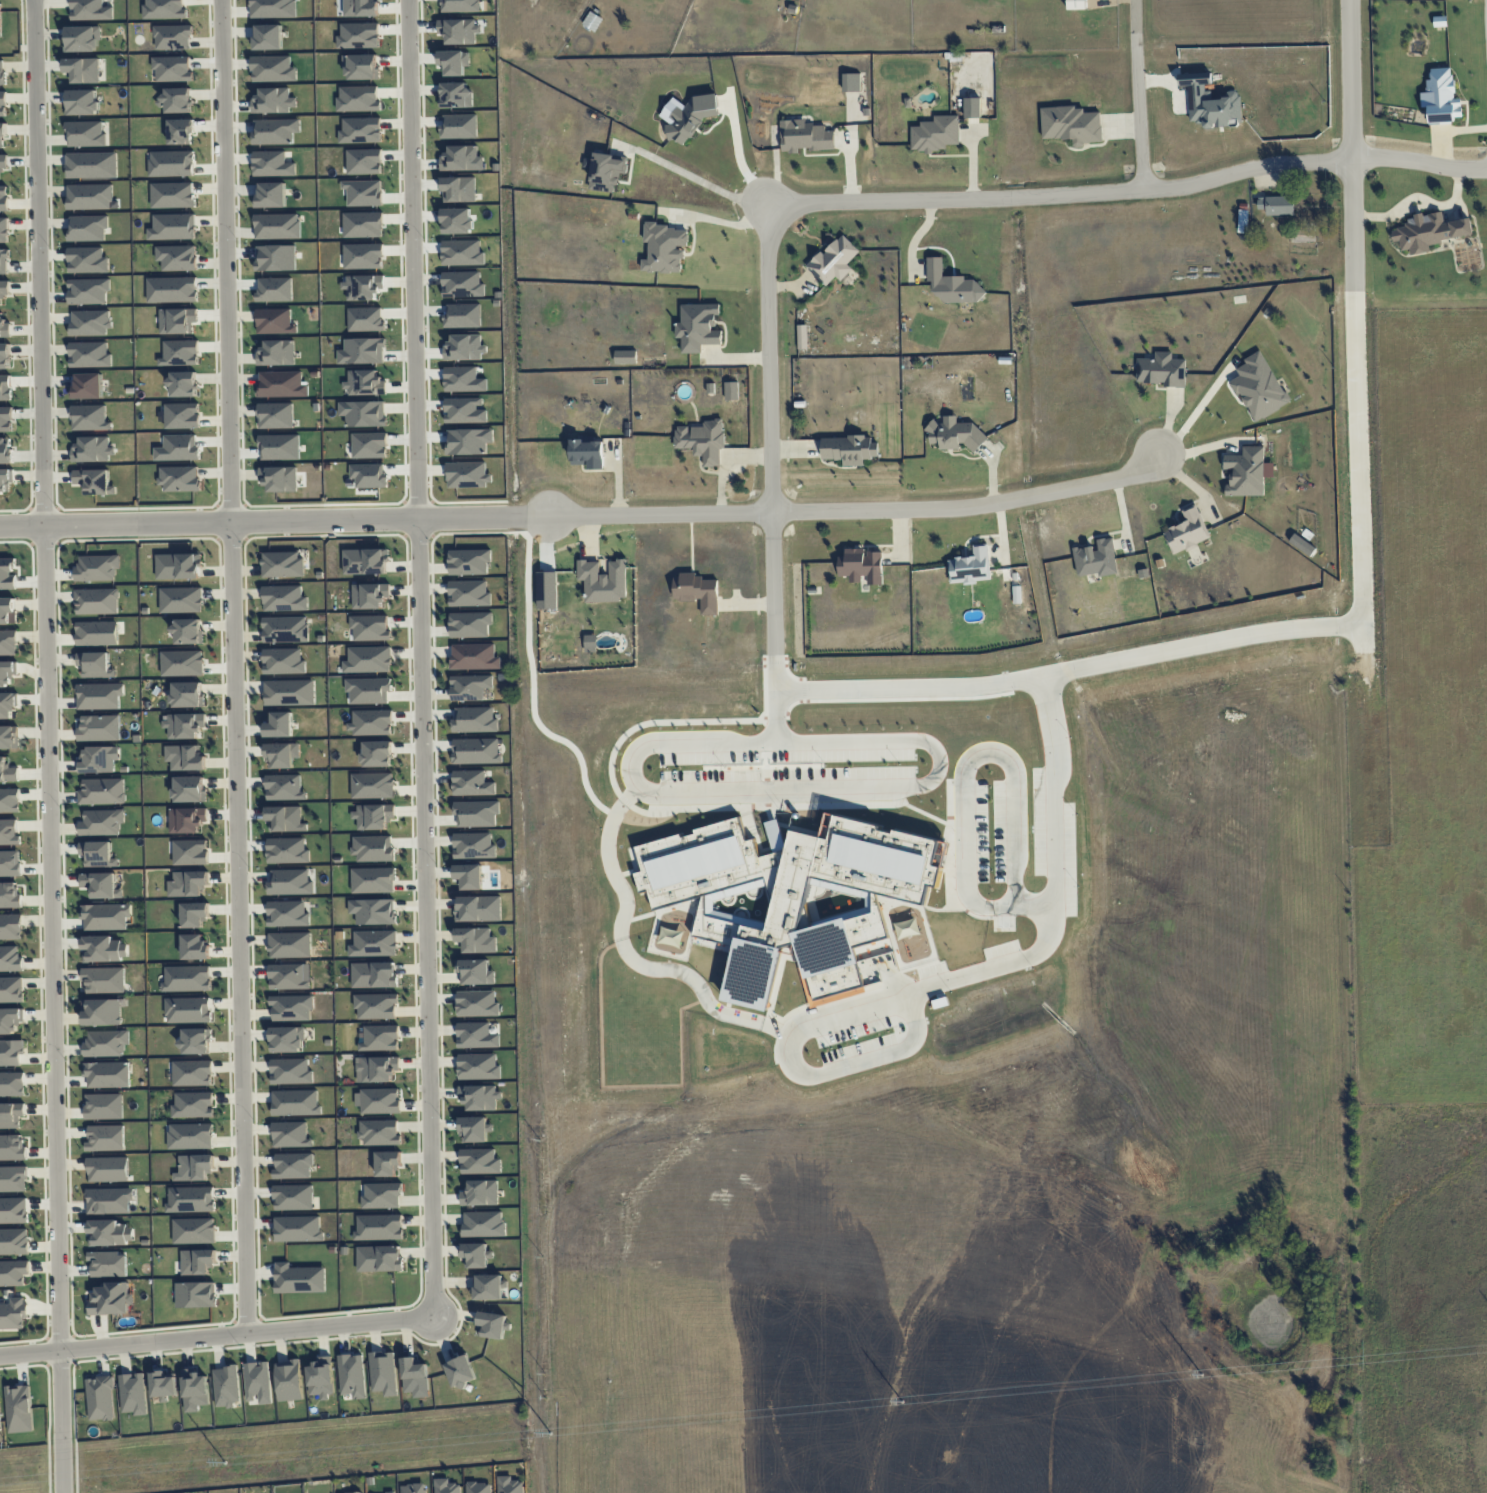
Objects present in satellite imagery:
building: (90, 10)
building: (1439, 21)
building: (0, 22)
building: (82, 38)
building: (82, 69)
building: (2, 72)
road: (1139, 94)
building: (1441, 96)
building: (82, 102)
building: (1210, 102)
building: (3, 103)
building: (687, 115)
building: (1071, 124)
building: (935, 133)
building: (85, 134)
building: (2, 135)
building: (804, 136)
road: (1352, 144)
road: (737, 157)
road: (1420, 160)
building: (3, 162)
building: (91, 165)
building: (607, 171)
road: (692, 177)
building: (172, 194)
road: (1062, 194)
building: (89, 196)
building: (4, 198)
road: (1419, 199)
building: (1277, 205)
building: (1242, 218)
road: (720, 221)
building: (173, 227)
building: (87, 228)
building: (4, 230)
building: (1429, 231)
building: (665, 248)
building: (177, 257)
building: (834, 260)
building: (3, 261)
building: (950, 284)
building: (4, 289)
building: (88, 291)
building: (698, 327)
building: (4, 328)
building: (802, 336)
building: (276, 353)
building: (89, 354)
building: (5, 356)
building: (625, 357)
building: (1162, 370)
building: (182, 384)
building: (282, 384)
building: (87, 386)
building: (1259, 387)
building: (731, 390)
building: (275, 415)
road: (1194, 415)
building: (89, 418)
building: (6, 419)
road: (770, 431)
building: (955, 434)
building: (702, 440)
building: (849, 449)
building: (5, 450)
building: (92, 450)
building: (587, 452)
building: (1246, 471)
building: (179, 478)
building: (279, 478)
building: (6, 481)
building: (94, 481)
road: (973, 505)
road: (658, 514)
road: (273, 523)
building: (1187, 531)
building: (1096, 559)
building: (365, 561)
building: (469, 561)
building: (282, 564)
building: (178, 566)
building: (862, 566)
building: (971, 566)
building: (96, 567)
building: (7, 574)
building: (603, 581)
building: (697, 591)
building: (469, 593)
building: (369, 595)
building: (284, 598)
building: (181, 600)
building: (96, 601)
building: (7, 610)
building: (470, 624)
building: (370, 628)
building: (285, 629)
building: (188, 631)
building: (97, 633)
building: (8, 642)
road: (1220, 642)
building: (474, 656)
road: (423, 657)
building: (368, 659)
building: (283, 661)
building: (182, 663)
building: (95, 664)
road: (236, 666)
building: (7, 672)
road: (534, 682)
building: (470, 687)
building: (368, 690)
building: (290, 692)
building: (187, 694)
building: (99, 695)
building: (8, 704)
building: (475, 719)
building: (370, 722)
building: (184, 725)
building: (279, 725)
building: (99, 728)
building: (9, 737)
road: (51, 746)
building: (476, 750)
building: (377, 753)
road: (989, 753)
building: (282, 754)
building: (185, 757)
building: (99, 759)
building: (7, 771)
building: (472, 783)
building: (372, 785)
building: (284, 787)
building: (189, 789)
road: (884, 790)
building: (102, 791)
building: (9, 800)
building: (476, 813)
building: (373, 816)
building: (285, 818)
building: (187, 819)
building: (101, 822)
building: (9, 832)
building: (473, 845)
building: (373, 848)
building: (287, 850)
building: (190, 852)
building: (97, 853)
building: (10, 863)
building: (469, 876)
building: (373, 880)
building: (290, 882)
building: (187, 883)
building: (101, 885)
building: (9, 894)
building: (478, 908)
building: (373, 911)
building: (287, 913)
building: (194, 914)
building: (106, 916)
building: (10, 926)
building: (476, 940)
building: (374, 943)
building: (290, 945)
building: (194, 946)
building: (104, 949)
building: (10, 959)
building: (475, 971)
building: (374, 974)
building: (289, 976)
building: (187, 978)
building: (103, 980)
building: (11, 989)
building: (477, 1003)
building: (376, 1006)
building: (292, 1007)
building: (188, 1009)
building: (102, 1011)
building: (11, 1021)
road: (773, 1029)
building: (476, 1035)
building: (380, 1038)
building: (287, 1039)
building: (196, 1041)
building: (106, 1043)
building: (11, 1052)
building: (478, 1066)
building: (378, 1069)
building: (291, 1071)
building: (192, 1072)
building: (107, 1074)
building: (11, 1083)
building: (479, 1097)
building: (380, 1100)
building: (295, 1103)
building: (192, 1104)
building: (104, 1106)
building: (11, 1115)
building: (473, 1129)
building: (379, 1132)
building: (291, 1134)
building: (190, 1136)
building: (105, 1138)
building: (12, 1147)
building: (479, 1161)
building: (387, 1163)
building: (293, 1165)
building: (194, 1167)
building: (107, 1169)
building: (13, 1178)
building: (480, 1193)
building: (381, 1195)
building: (293, 1197)
building: (190, 1199)
building: (109, 1200)
building: (13, 1210)
building: (483, 1223)
building: (378, 1227)
building: (298, 1228)
building: (193, 1230)
building: (109, 1233)
building: (14, 1241)
building: (476, 1255)
building: (379, 1258)
building: (197, 1261)
building: (108, 1264)
building: (13, 1272)
building: (299, 1278)
building: (488, 1287)
building: (195, 1294)
building: (112, 1299)
building: (13, 1313)
building: (492, 1324)
road: (219, 1335)
building: (460, 1371)
building: (383, 1372)
building: (352, 1375)
power tower: (1202, 1375)
building: (321, 1377)
building: (415, 1377)
building: (289, 1380)
building: (258, 1381)
building: (163, 1383)
building: (226, 1386)
building: (194, 1390)
building: (132, 1393)
building: (99, 1398)
power tower: (904, 1402)
building: (19, 1408)
building: (0, 1427)
power tower: (551, 1434)
power tower: (228, 1463)
building: (509, 1485)
building: (445, 1486)
building: (478, 1487)
building: (412, 1488)
building: (389, 1492)

